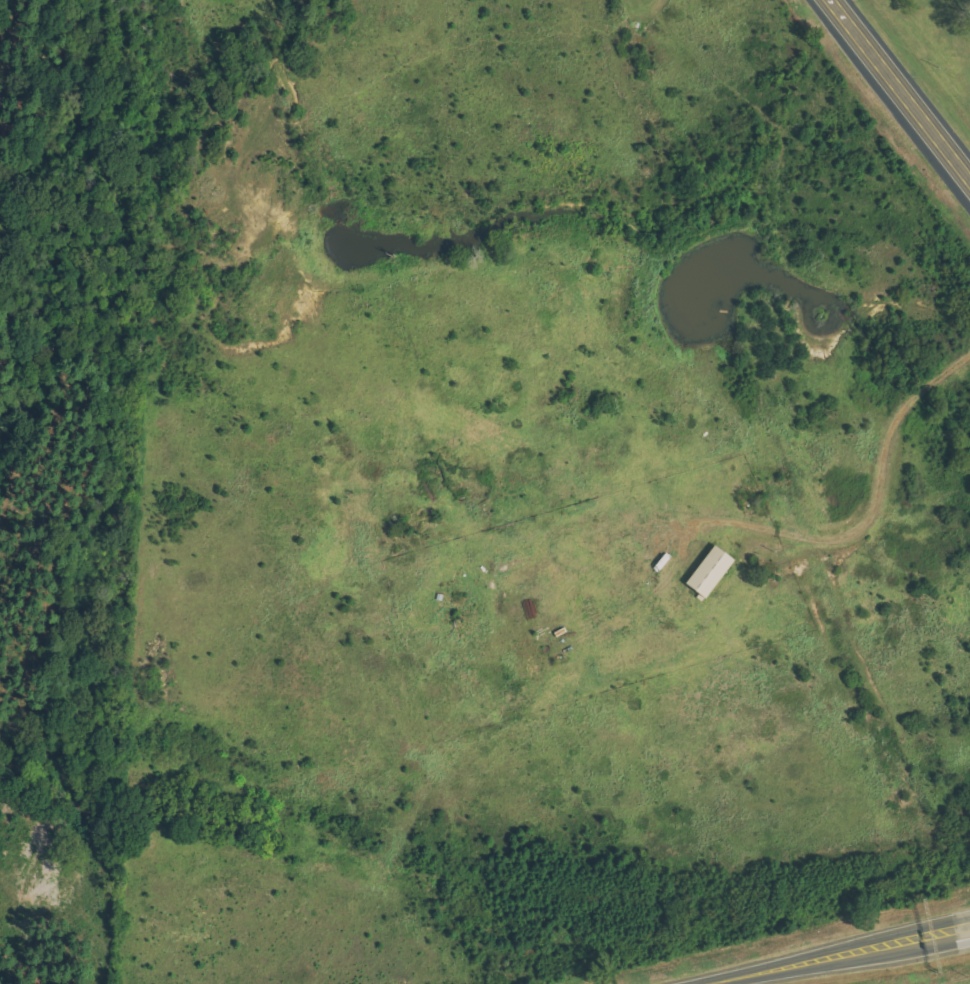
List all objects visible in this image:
road: (199, 16)
road: (900, 87)
building: (713, 571)
road: (912, 942)
road: (912, 948)
road: (779, 969)

